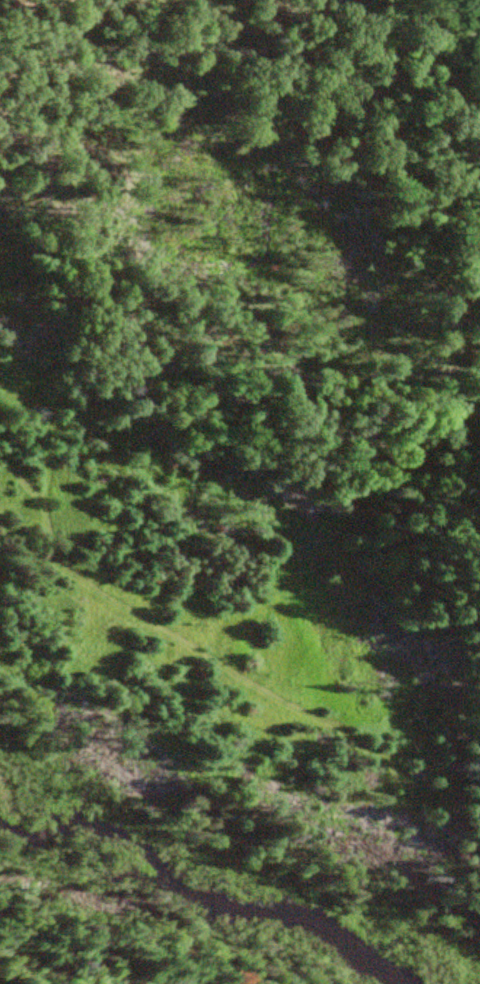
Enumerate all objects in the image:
road: (86, 132)

